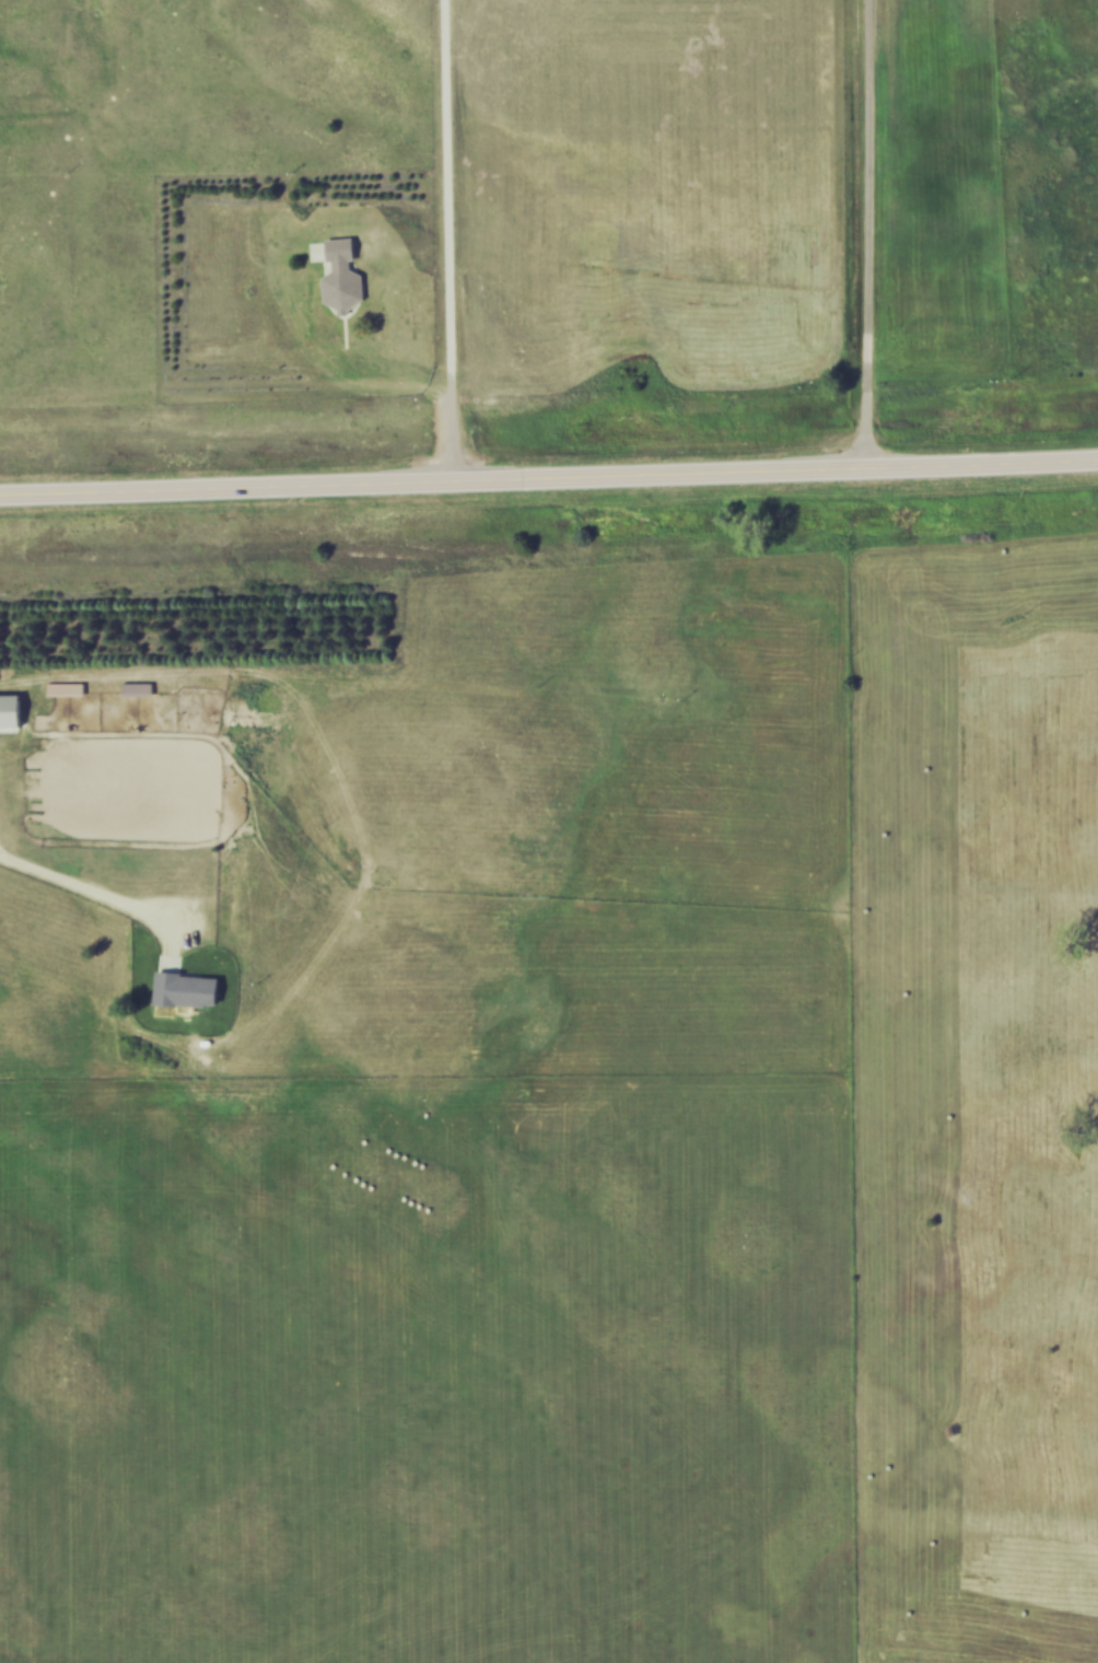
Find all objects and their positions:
road: (865, 239)
road: (442, 245)
building: (343, 271)
road: (386, 368)
road: (549, 487)
building: (70, 689)
building: (142, 689)
building: (12, 713)
road: (112, 905)
building: (192, 989)

